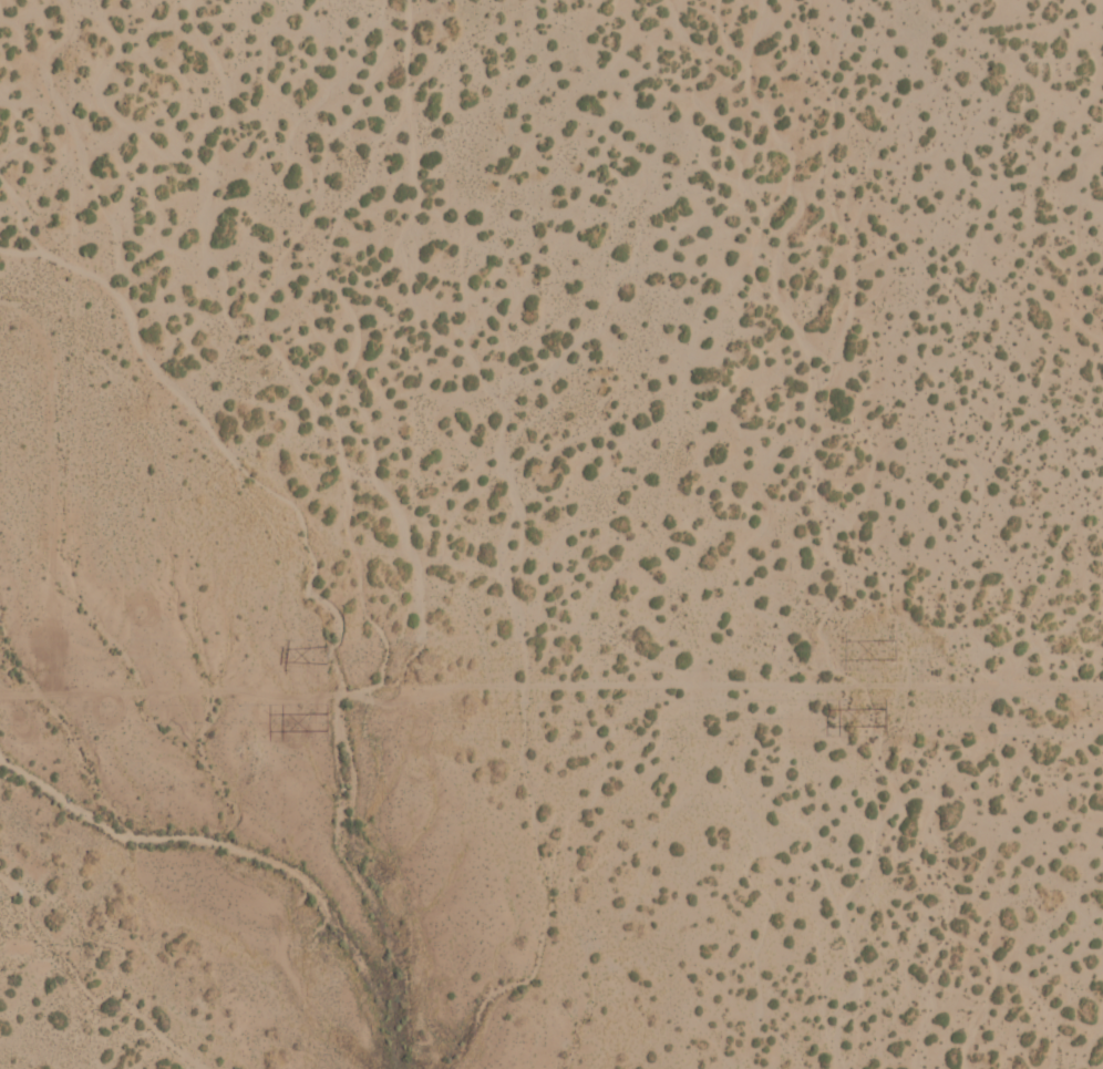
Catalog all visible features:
power tower: (879, 650)
power tower: (323, 652)
power tower: (879, 716)
power tower: (324, 719)

